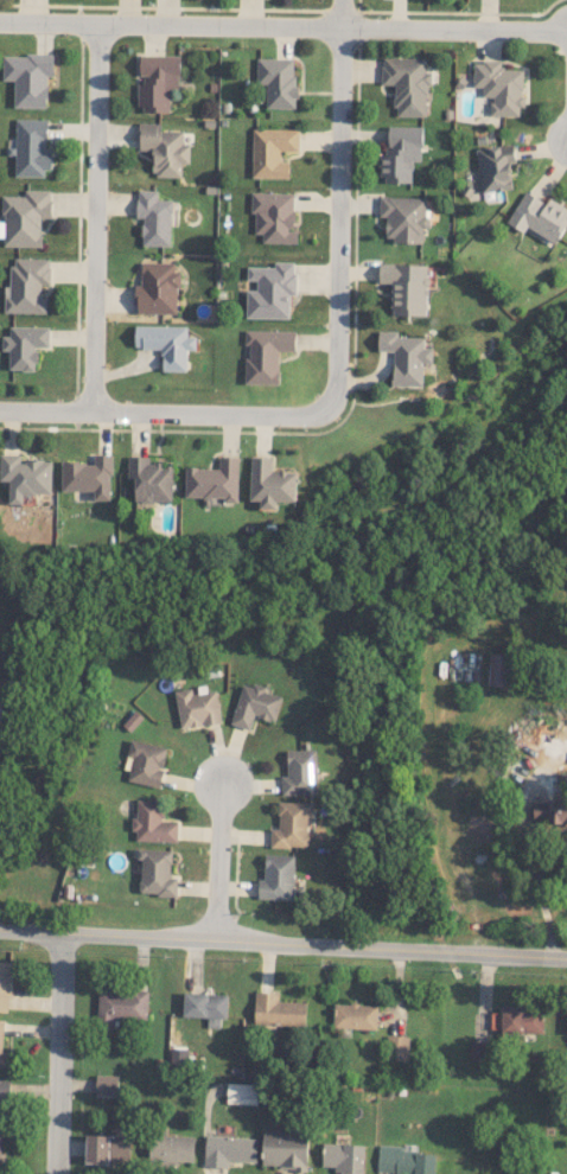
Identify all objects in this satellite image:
road: (282, 28)
building: (28, 77)
building: (278, 81)
building: (158, 83)
building: (407, 84)
building: (499, 87)
building: (31, 147)
building: (164, 148)
building: (272, 152)
building: (401, 153)
building: (495, 167)
road: (340, 203)
building: (274, 216)
building: (539, 216)
building: (24, 217)
building: (154, 217)
building: (403, 217)
road: (96, 219)
building: (26, 285)
building: (406, 287)
building: (158, 288)
building: (270, 291)
building: (166, 344)
building: (24, 345)
building: (266, 355)
building: (406, 357)
road: (168, 414)
building: (25, 476)
building: (89, 476)
building: (152, 479)
building: (215, 480)
building: (272, 483)
building: (497, 669)
building: (255, 706)
building: (197, 708)
building: (1, 712)
building: (146, 761)
building: (300, 772)
building: (550, 810)
building: (152, 822)
building: (291, 824)
road: (218, 855)
building: (155, 872)
building: (276, 878)
road: (282, 933)
building: (5, 984)
building: (122, 1007)
building: (205, 1007)
building: (278, 1009)
building: (355, 1015)
building: (522, 1020)
building: (1, 1041)
building: (397, 1047)
road: (59, 1048)
building: (478, 1051)
building: (106, 1085)
building: (242, 1092)
building: (4, 1099)
building: (0, 1148)
building: (108, 1148)
building: (285, 1148)
building: (171, 1149)
building: (229, 1149)
building: (343, 1157)
building: (404, 1161)

